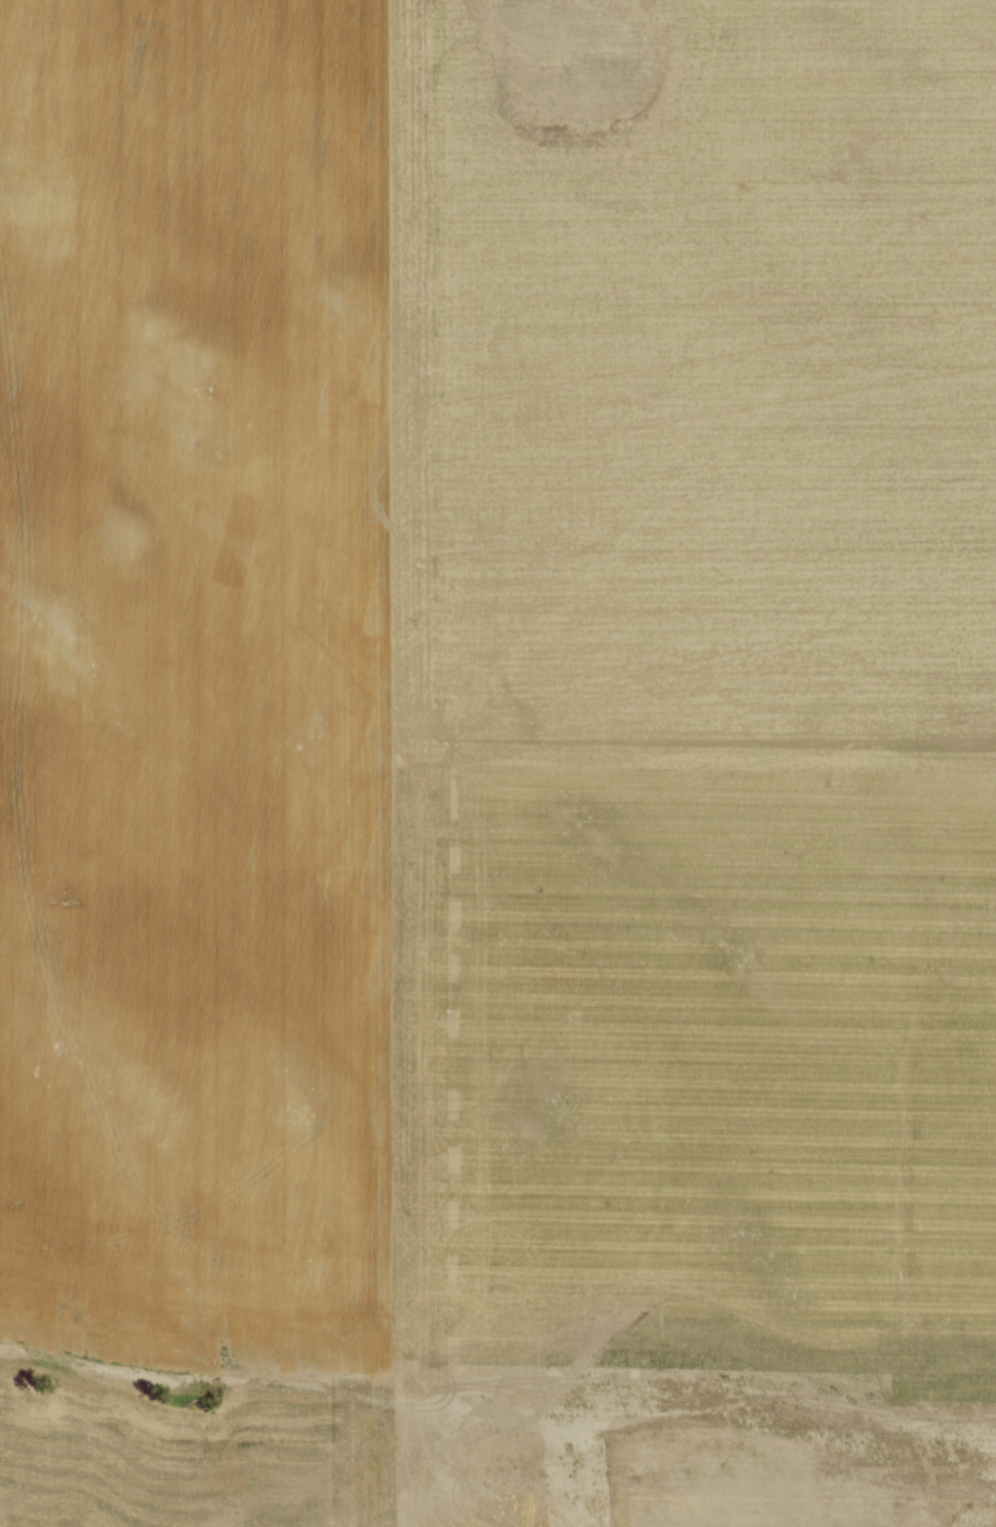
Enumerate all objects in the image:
crop: (498, 763)

